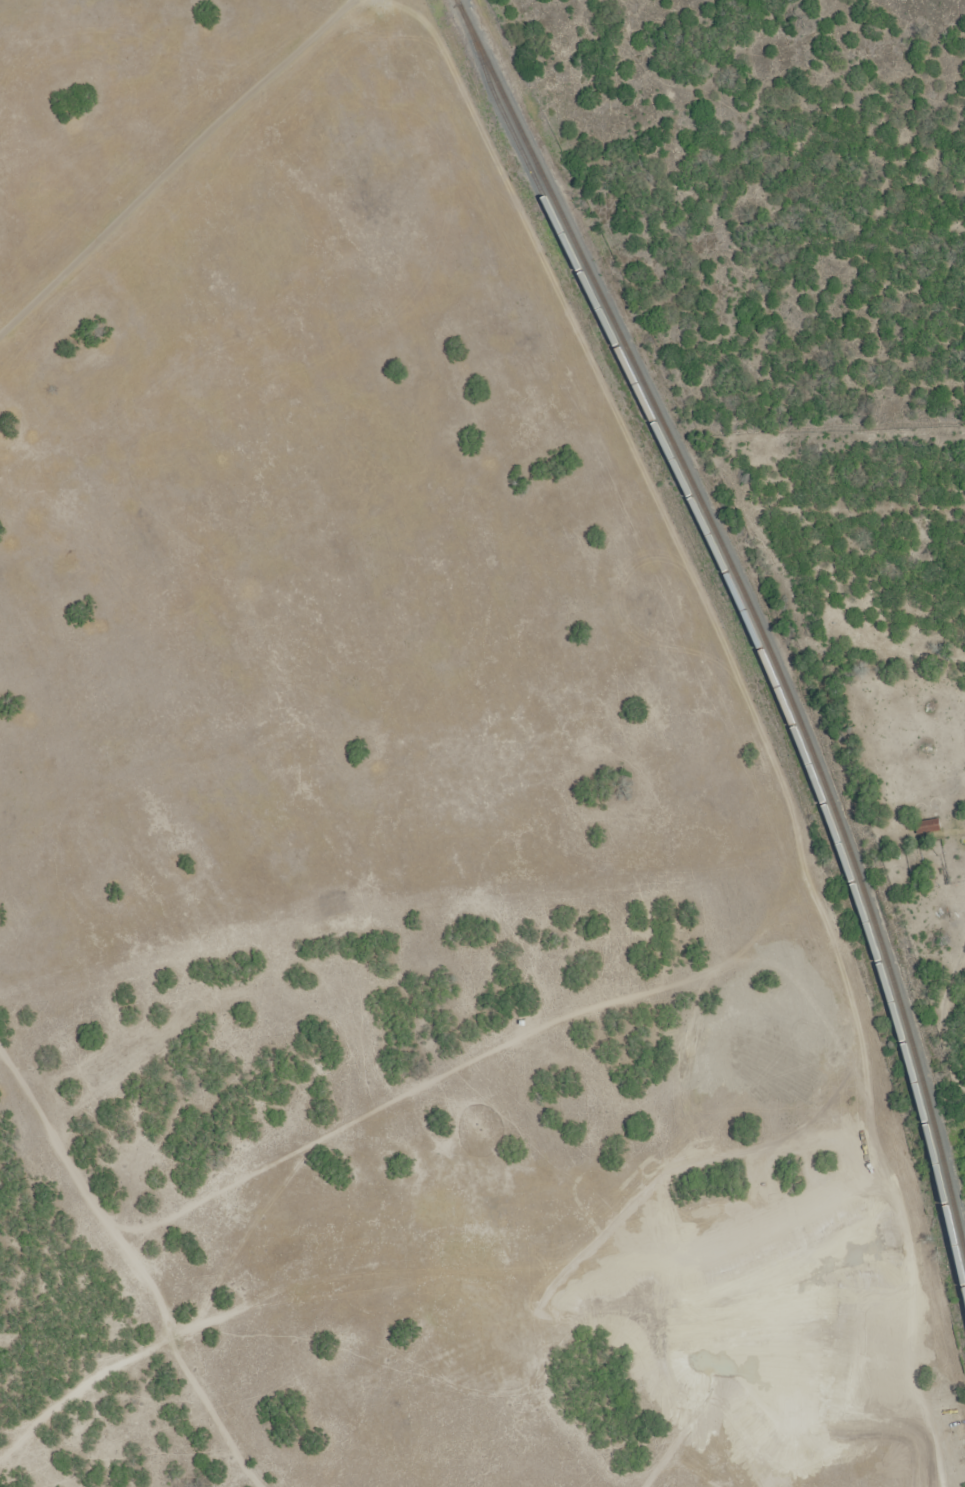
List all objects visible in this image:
road: (200, 61)
road: (181, 172)
railway: (748, 598)
railway: (757, 638)

